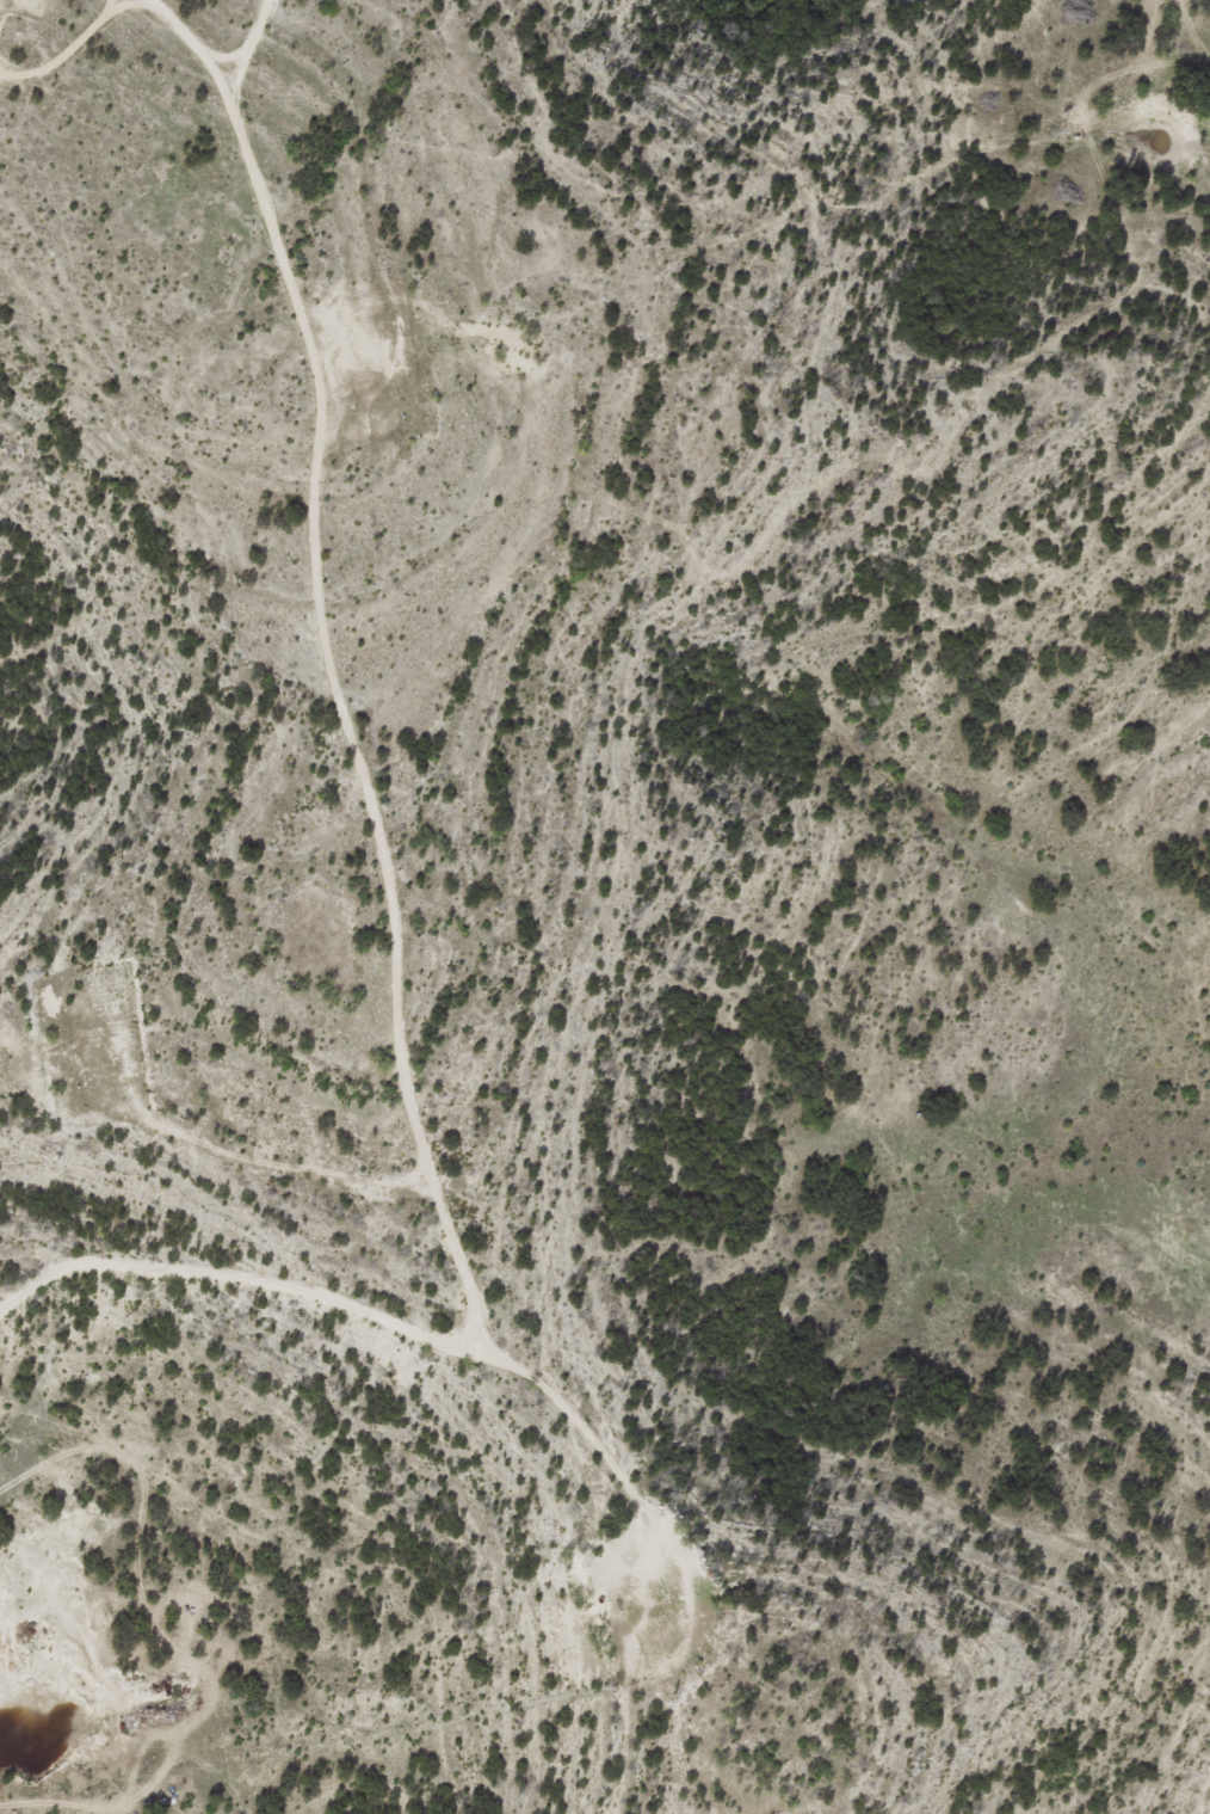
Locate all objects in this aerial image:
road: (288, 841)
road: (529, 1451)
road: (1084, 1606)

